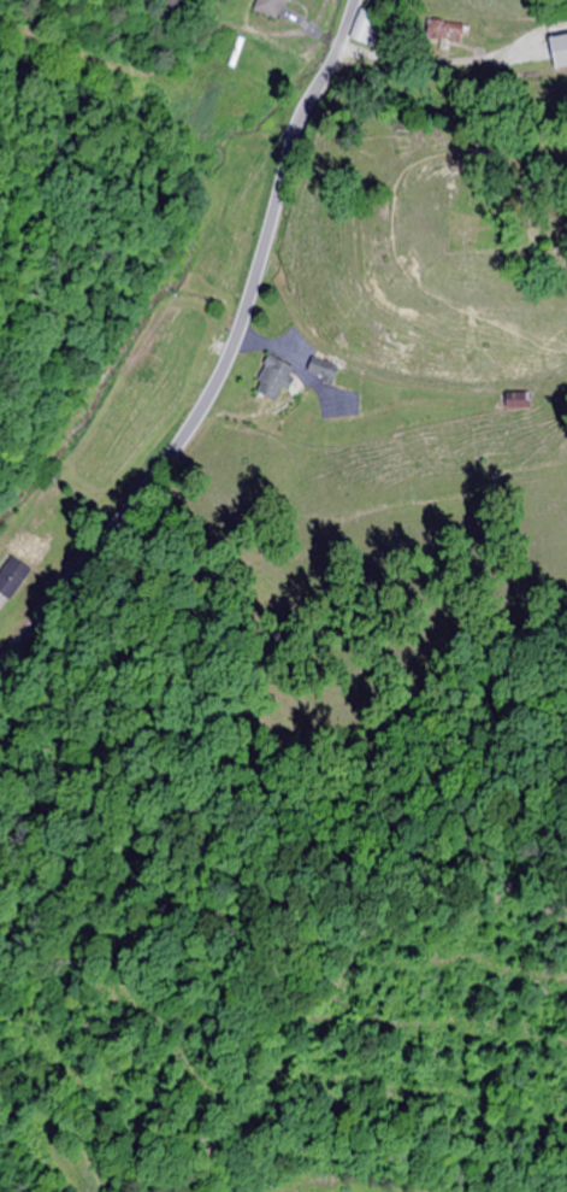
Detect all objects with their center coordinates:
building: (267, 8)
building: (362, 28)
building: (556, 52)
park: (498, 212)
road: (226, 363)
building: (321, 370)
building: (272, 380)
building: (516, 401)

